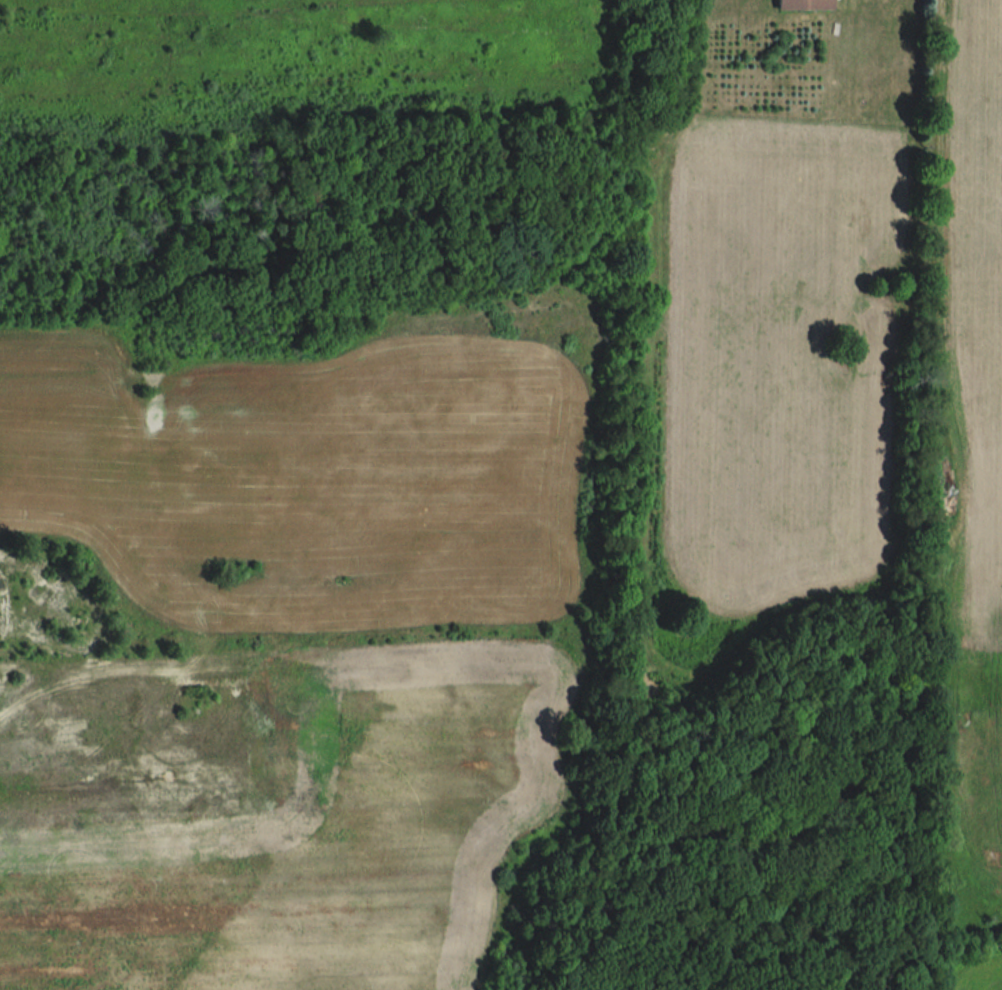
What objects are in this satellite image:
building: (801, 4)
crop: (766, 380)
crop: (973, 431)

